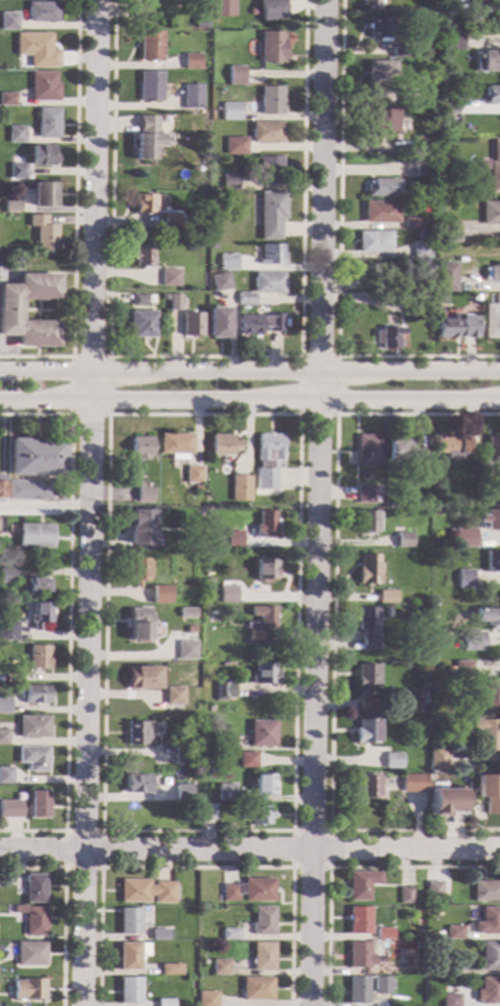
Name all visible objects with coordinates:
building: (221, 4)
building: (371, 5)
building: (271, 10)
building: (42, 11)
building: (141, 11)
building: (216, 15)
building: (8, 21)
building: (379, 28)
building: (453, 41)
building: (150, 46)
building: (273, 47)
building: (37, 50)
building: (400, 52)
building: (193, 62)
building: (485, 62)
building: (380, 73)
building: (236, 75)
building: (150, 86)
building: (44, 87)
building: (492, 95)
building: (192, 97)
building: (408, 98)
building: (7, 99)
building: (271, 101)
building: (448, 110)
building: (231, 111)
building: (381, 122)
building: (48, 124)
building: (266, 133)
building: (16, 135)
building: (147, 138)
building: (235, 145)
building: (422, 145)
building: (441, 150)
building: (43, 156)
building: (482, 164)
building: (495, 168)
building: (422, 169)
building: (17, 171)
building: (270, 171)
building: (229, 182)
building: (382, 188)
building: (43, 195)
building: (144, 204)
building: (11, 206)
building: (380, 213)
building: (490, 213)
road: (74, 214)
building: (271, 215)
building: (170, 220)
building: (412, 223)
building: (43, 232)
building: (450, 233)
building: (374, 242)
building: (421, 250)
building: (271, 255)
building: (142, 256)
road: (338, 259)
building: (228, 262)
building: (367, 273)
building: (493, 273)
building: (170, 278)
building: (445, 278)
building: (221, 281)
building: (262, 286)
building: (475, 298)
building: (140, 300)
building: (397, 300)
building: (174, 303)
road: (47, 310)
building: (10, 315)
building: (492, 319)
building: (217, 323)
building: (259, 324)
building: (191, 325)
building: (455, 328)
building: (143, 330)
building: (388, 337)
road: (204, 357)
road: (250, 371)
road: (250, 399)
road: (299, 414)
road: (71, 415)
road: (108, 415)
building: (176, 446)
building: (223, 446)
building: (452, 446)
building: (494, 447)
building: (270, 448)
building: (140, 449)
building: (369, 452)
building: (404, 452)
building: (37, 458)
building: (193, 475)
building: (266, 480)
building: (2, 487)
building: (240, 488)
building: (28, 491)
building: (144, 495)
building: (367, 495)
building: (191, 496)
road: (89, 502)
road: (317, 502)
building: (435, 504)
road: (44, 507)
building: (436, 512)
building: (141, 519)
building: (490, 520)
building: (366, 522)
building: (265, 523)
building: (35, 537)
building: (233, 540)
building: (468, 540)
building: (403, 541)
building: (493, 562)
building: (265, 570)
building: (368, 570)
building: (138, 571)
building: (6, 577)
building: (465, 580)
building: (37, 586)
building: (160, 591)
building: (228, 597)
building: (386, 597)
building: (231, 610)
building: (187, 613)
building: (387, 613)
building: (40, 614)
building: (138, 615)
building: (213, 617)
building: (487, 617)
road: (68, 620)
building: (261, 623)
road: (332, 625)
building: (367, 628)
building: (191, 630)
building: (8, 632)
building: (472, 641)
building: (187, 651)
building: (39, 658)
building: (463, 669)
building: (263, 675)
building: (366, 676)
building: (12, 678)
building: (143, 678)
building: (224, 691)
building: (36, 695)
building: (174, 696)
building: (491, 696)
building: (367, 705)
building: (4, 706)
building: (211, 708)
building: (33, 727)
building: (366, 732)
building: (138, 733)
building: (262, 734)
building: (486, 734)
building: (4, 737)
building: (183, 757)
building: (34, 758)
building: (248, 760)
building: (437, 760)
building: (392, 761)
building: (9, 780)
building: (138, 784)
building: (413, 784)
building: (264, 785)
building: (366, 786)
building: (182, 790)
building: (488, 792)
building: (226, 793)
building: (175, 794)
building: (444, 802)
building: (10, 808)
building: (31, 808)
building: (207, 812)
building: (257, 816)
road: (102, 831)
road: (250, 850)
road: (196, 867)
road: (329, 867)
road: (344, 867)
building: (361, 885)
building: (35, 890)
building: (250, 891)
building: (434, 891)
building: (147, 892)
building: (487, 892)
building: (405, 896)
road: (64, 904)
building: (358, 921)
building: (35, 922)
building: (130, 922)
building: (263, 922)
building: (489, 922)
building: (455, 933)
building: (382, 934)
building: (437, 934)
building: (159, 935)
building: (230, 935)
building: (418, 946)
building: (31, 955)
building: (131, 955)
building: (359, 955)
building: (489, 956)
building: (263, 957)
building: (219, 967)
building: (419, 969)
building: (455, 969)
building: (168, 970)
building: (380, 970)
building: (380, 986)
building: (256, 989)
building: (29, 990)
building: (129, 991)
building: (357, 991)
building: (490, 991)
building: (207, 999)
building: (451, 1001)
building: (165, 1003)

